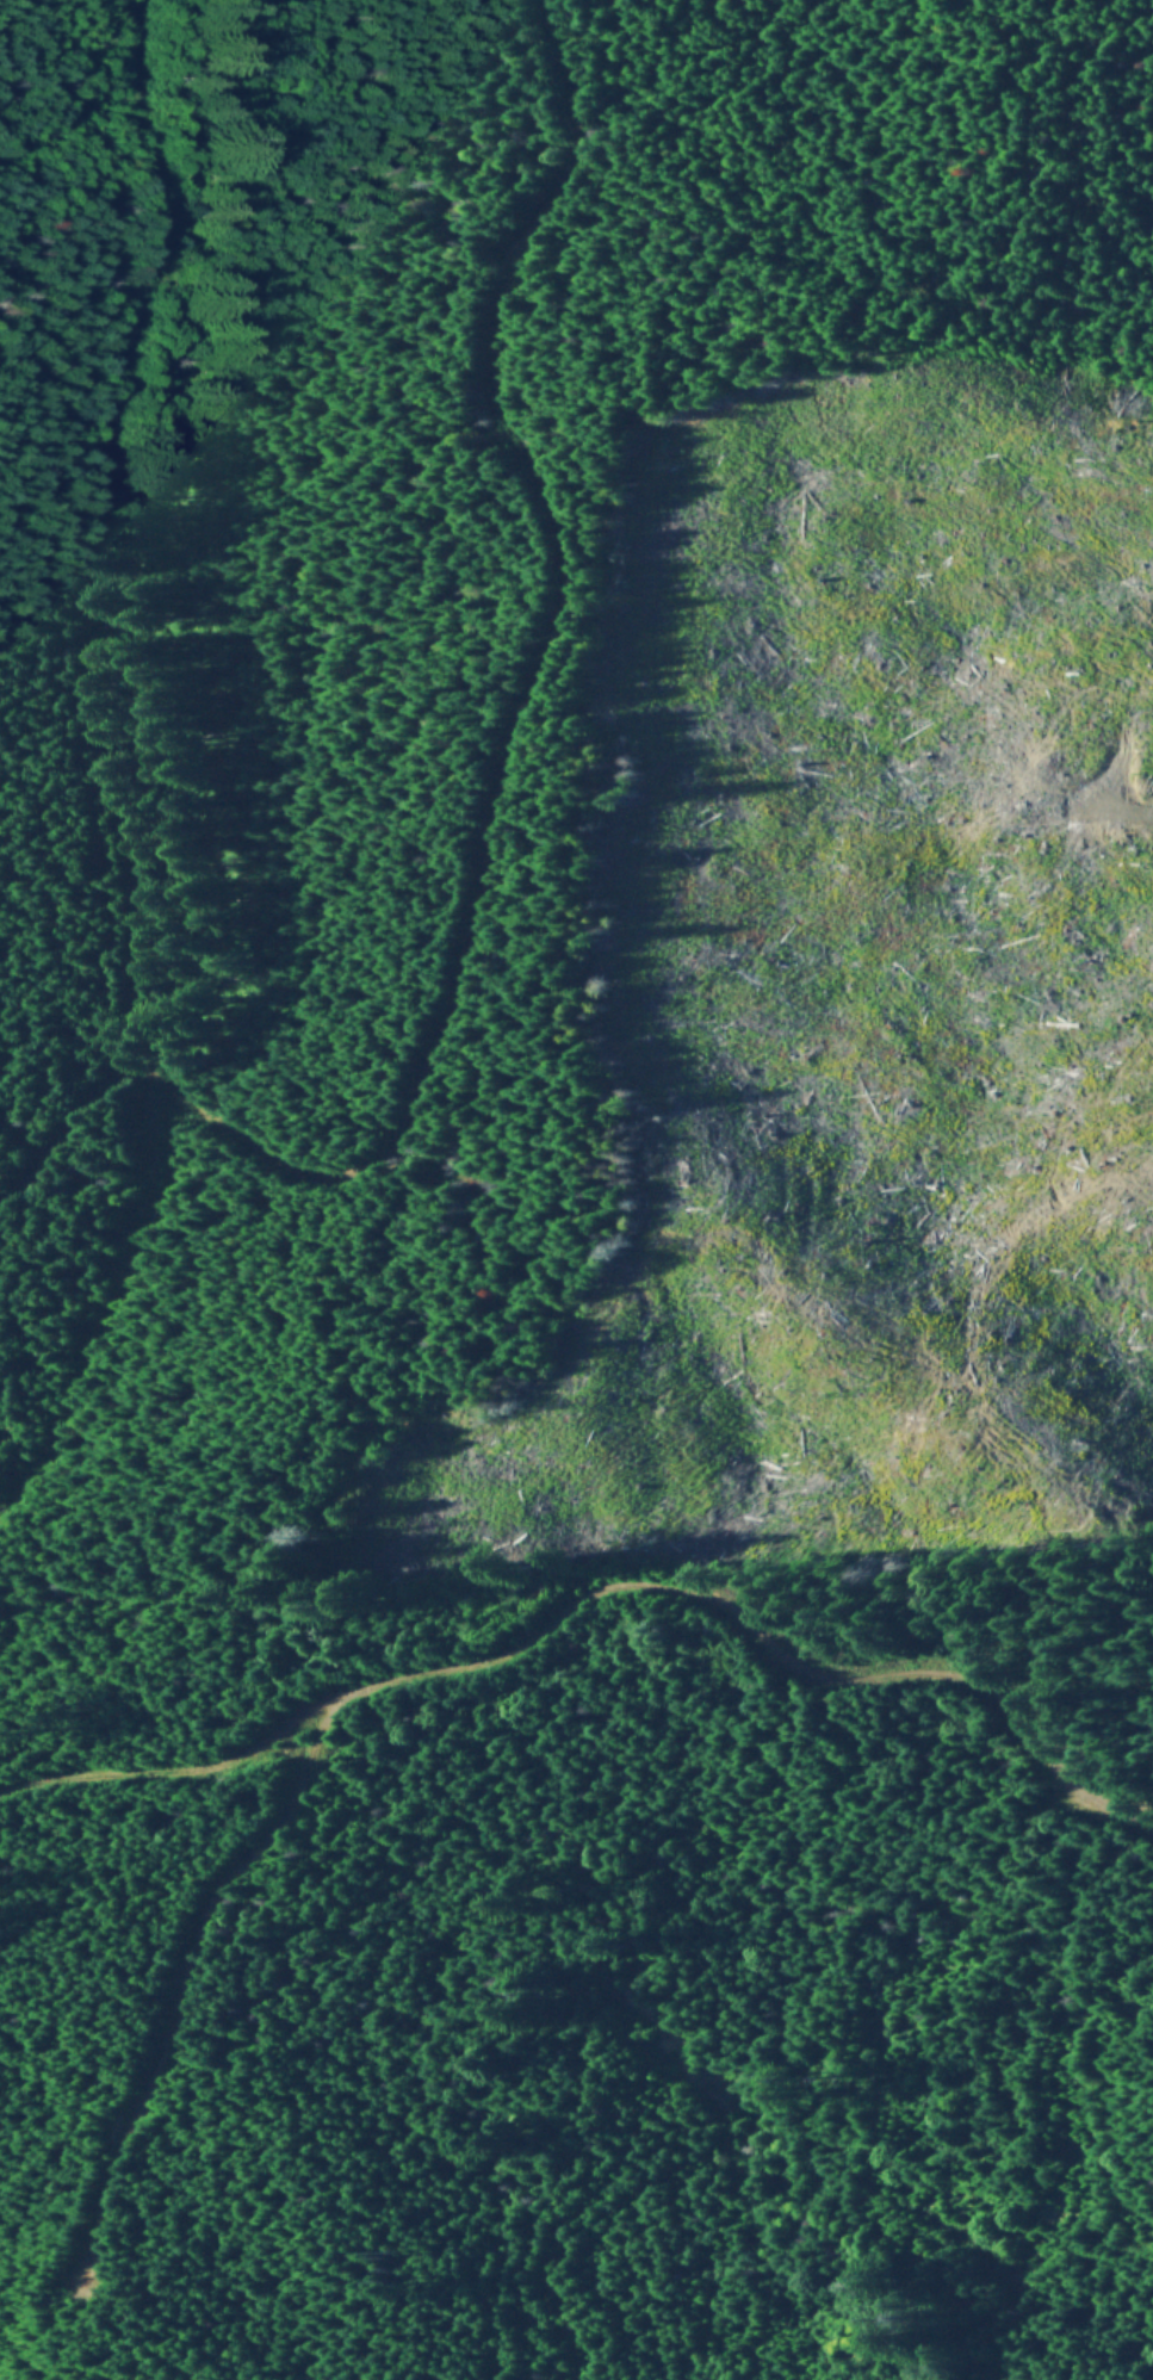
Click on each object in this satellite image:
road: (67, 1112)
road: (327, 1176)
road: (594, 1586)
road: (186, 1959)

